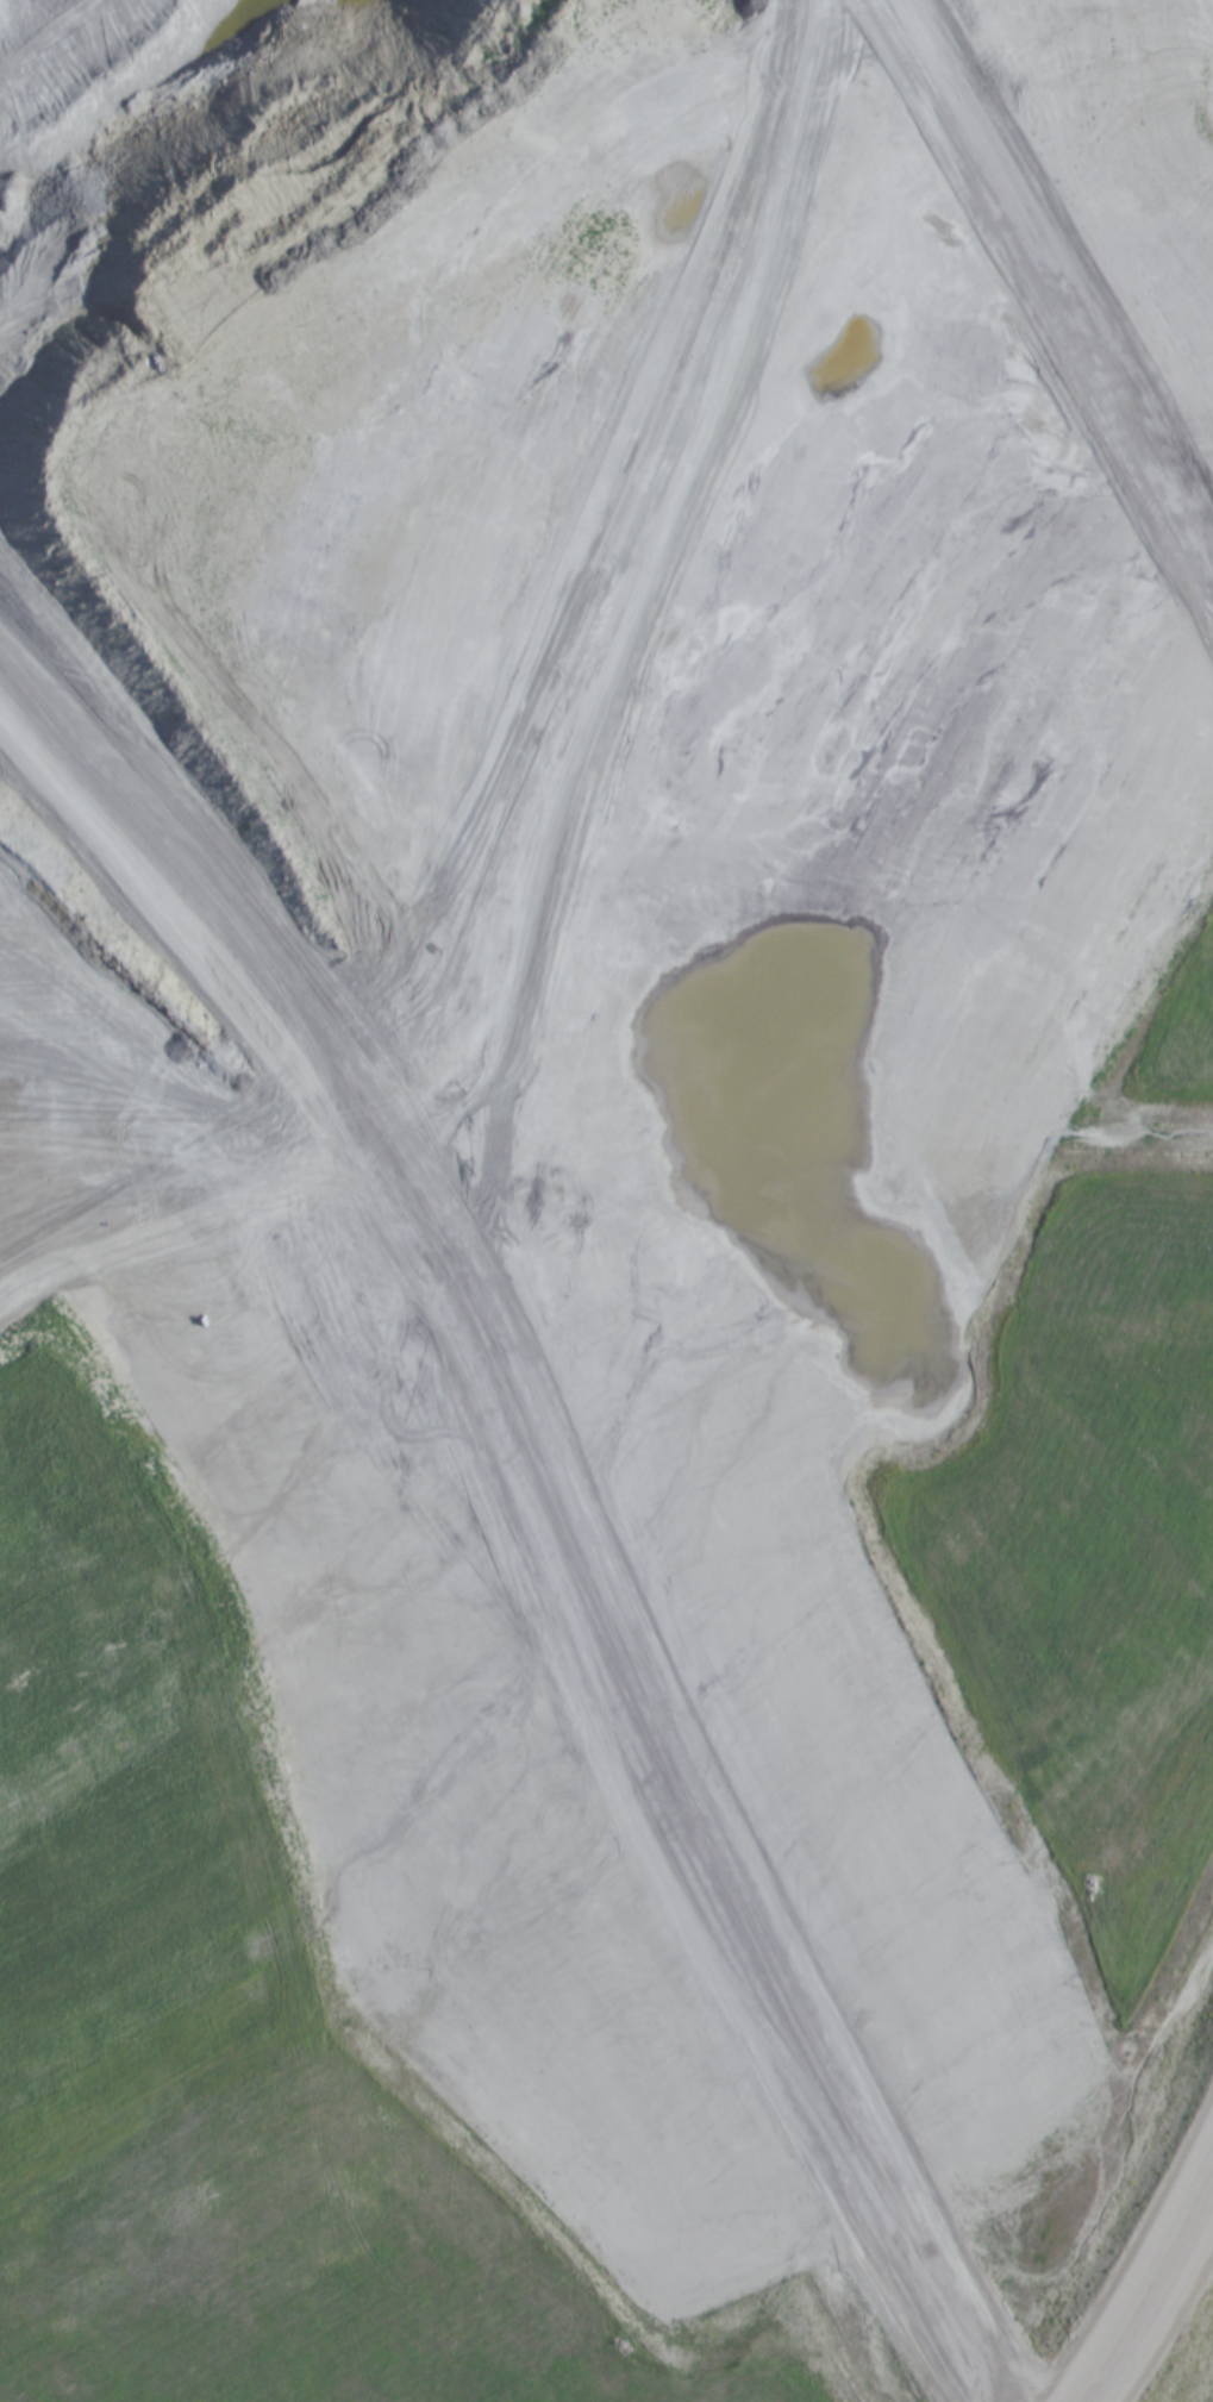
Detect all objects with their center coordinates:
building: (1196, 2050)
building: (1155, 2182)

